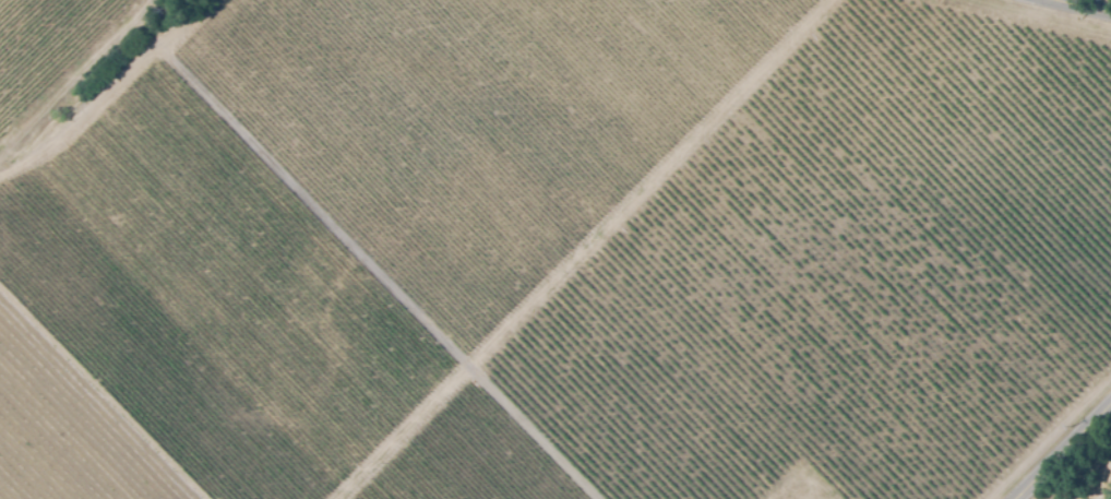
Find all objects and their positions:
road: (1083, 5)
road: (1064, 452)

